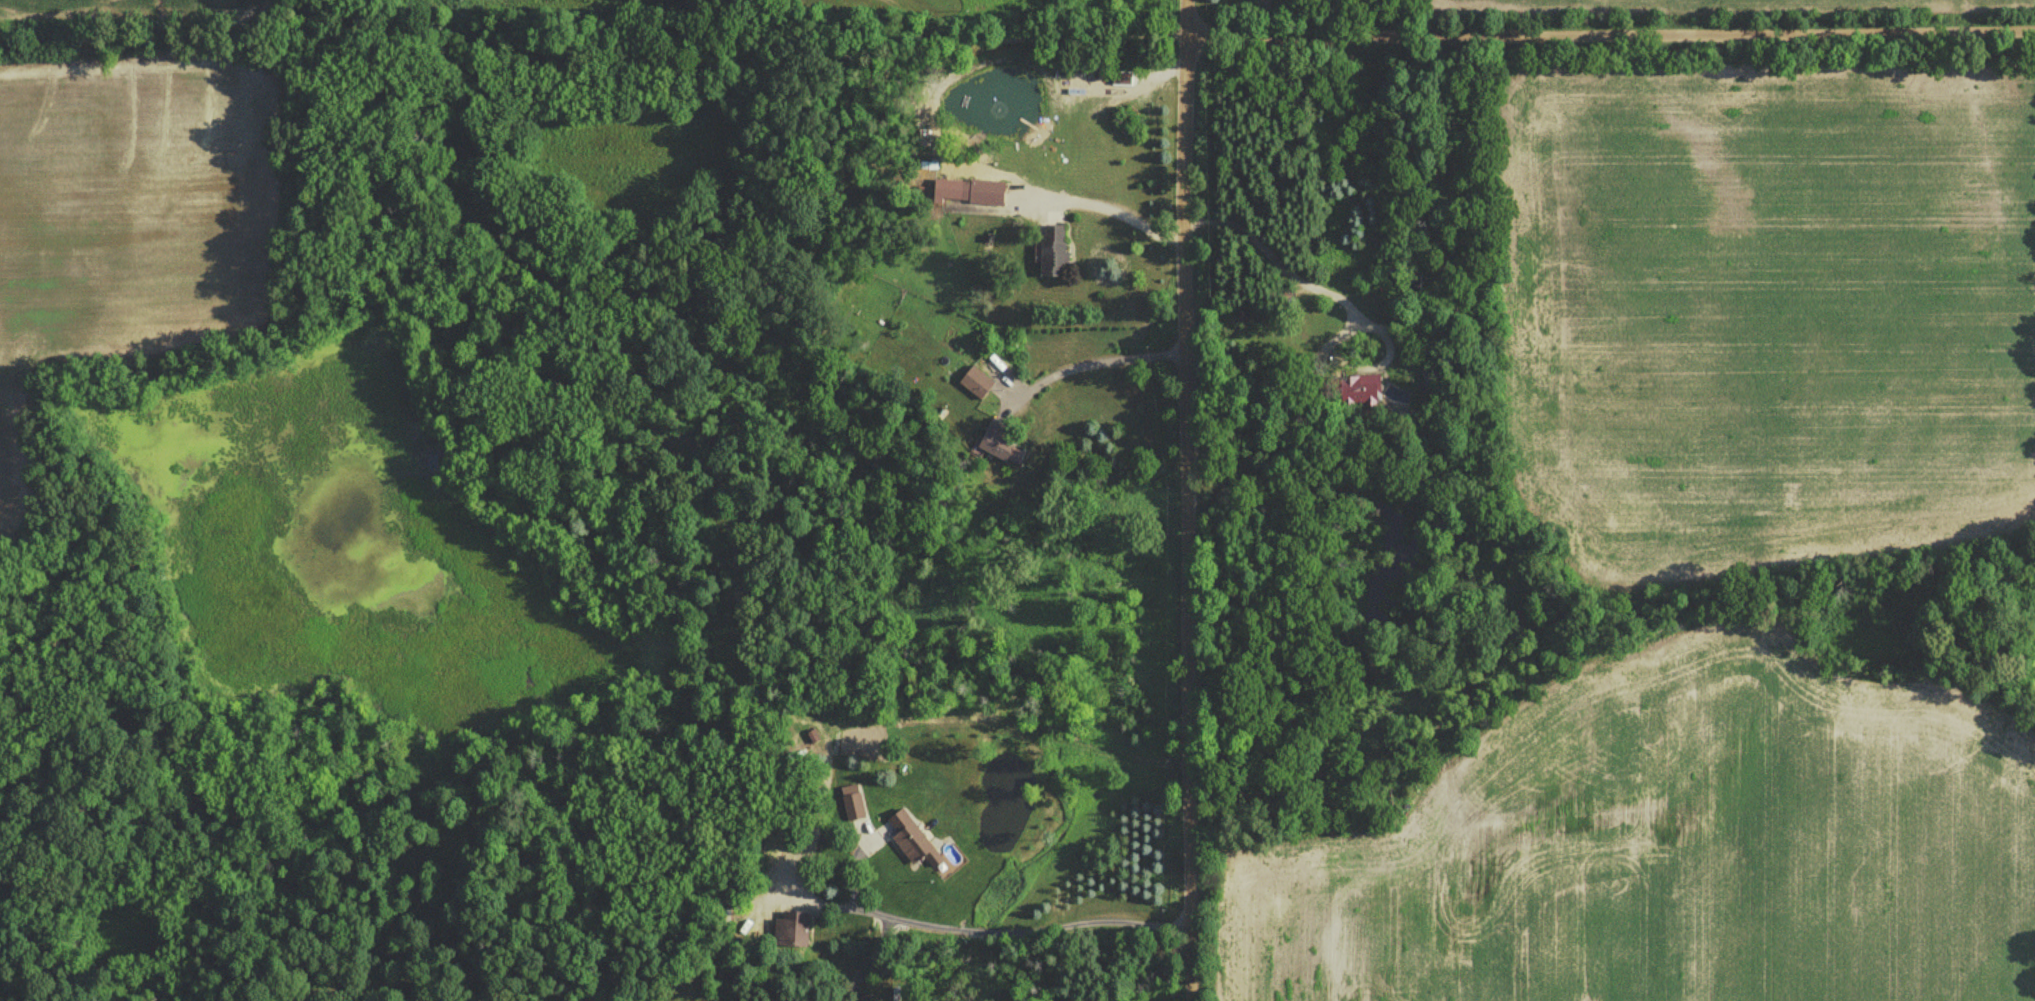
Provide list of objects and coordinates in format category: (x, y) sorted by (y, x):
road: (1611, 35)
road: (811, 46)
building: (981, 193)
road: (1108, 204)
building: (1052, 252)
road: (1286, 267)
road: (1095, 363)
building: (975, 383)
building: (1359, 390)
building: (993, 440)
road: (1188, 500)
building: (851, 802)
building: (910, 839)
road: (1002, 926)
building: (790, 929)

